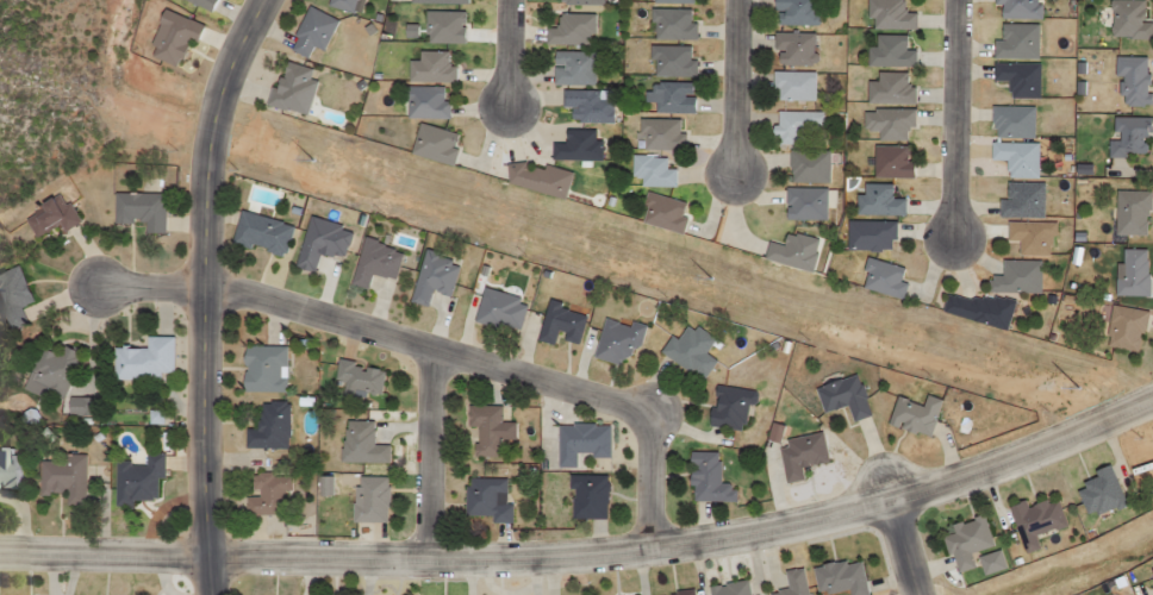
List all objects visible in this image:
building: (441, 0)
building: (579, 1)
building: (672, 1)
building: (200, 4)
building: (345, 5)
building: (1017, 8)
building: (794, 12)
building: (887, 15)
building: (1128, 20)
building: (671, 24)
building: (445, 25)
building: (568, 30)
building: (311, 32)
building: (170, 38)
building: (1015, 42)
building: (792, 49)
building: (889, 52)
road: (504, 56)
building: (671, 61)
building: (430, 68)
building: (574, 68)
building: (1017, 80)
building: (1130, 81)
road: (734, 86)
building: (792, 87)
building: (291, 88)
building: (889, 89)
building: (668, 96)
building: (423, 102)
building: (587, 106)
building: (1010, 121)
road: (952, 123)
building: (887, 124)
building: (798, 125)
building: (660, 134)
building: (1128, 137)
building: (432, 144)
building: (575, 146)
building: (1015, 158)
building: (890, 162)
building: (806, 167)
building: (650, 170)
power tower: (369, 176)
building: (535, 178)
building: (1021, 200)
building: (877, 201)
building: (804, 203)
building: (138, 211)
building: (661, 213)
building: (1130, 213)
building: (48, 217)
building: (260, 234)
building: (868, 236)
building: (1029, 238)
building: (318, 243)
building: (790, 252)
building: (373, 262)
building: (1130, 273)
building: (431, 277)
building: (880, 278)
building: (1015, 278)
road: (206, 292)
building: (11, 297)
power tower: (780, 299)
building: (498, 309)
building: (976, 311)
building: (559, 324)
building: (1123, 328)
building: (616, 343)
building: (687, 351)
road: (444, 353)
building: (143, 361)
building: (262, 369)
building: (49, 374)
building: (357, 378)
building: (842, 397)
building: (81, 405)
building: (729, 408)
building: (911, 415)
building: (267, 427)
building: (484, 427)
building: (775, 431)
building: (578, 443)
building: (359, 444)
building: (798, 456)
road: (429, 457)
building: (8, 470)
building: (61, 478)
building: (705, 478)
building: (136, 480)
building: (326, 484)
building: (266, 494)
building: (1097, 494)
building: (586, 496)
building: (486, 499)
building: (368, 500)
building: (1034, 522)
building: (965, 543)
road: (900, 549)
road: (587, 550)
building: (993, 562)
building: (1152, 569)
building: (839, 577)
building: (791, 583)
building: (728, 588)
building: (677, 593)

